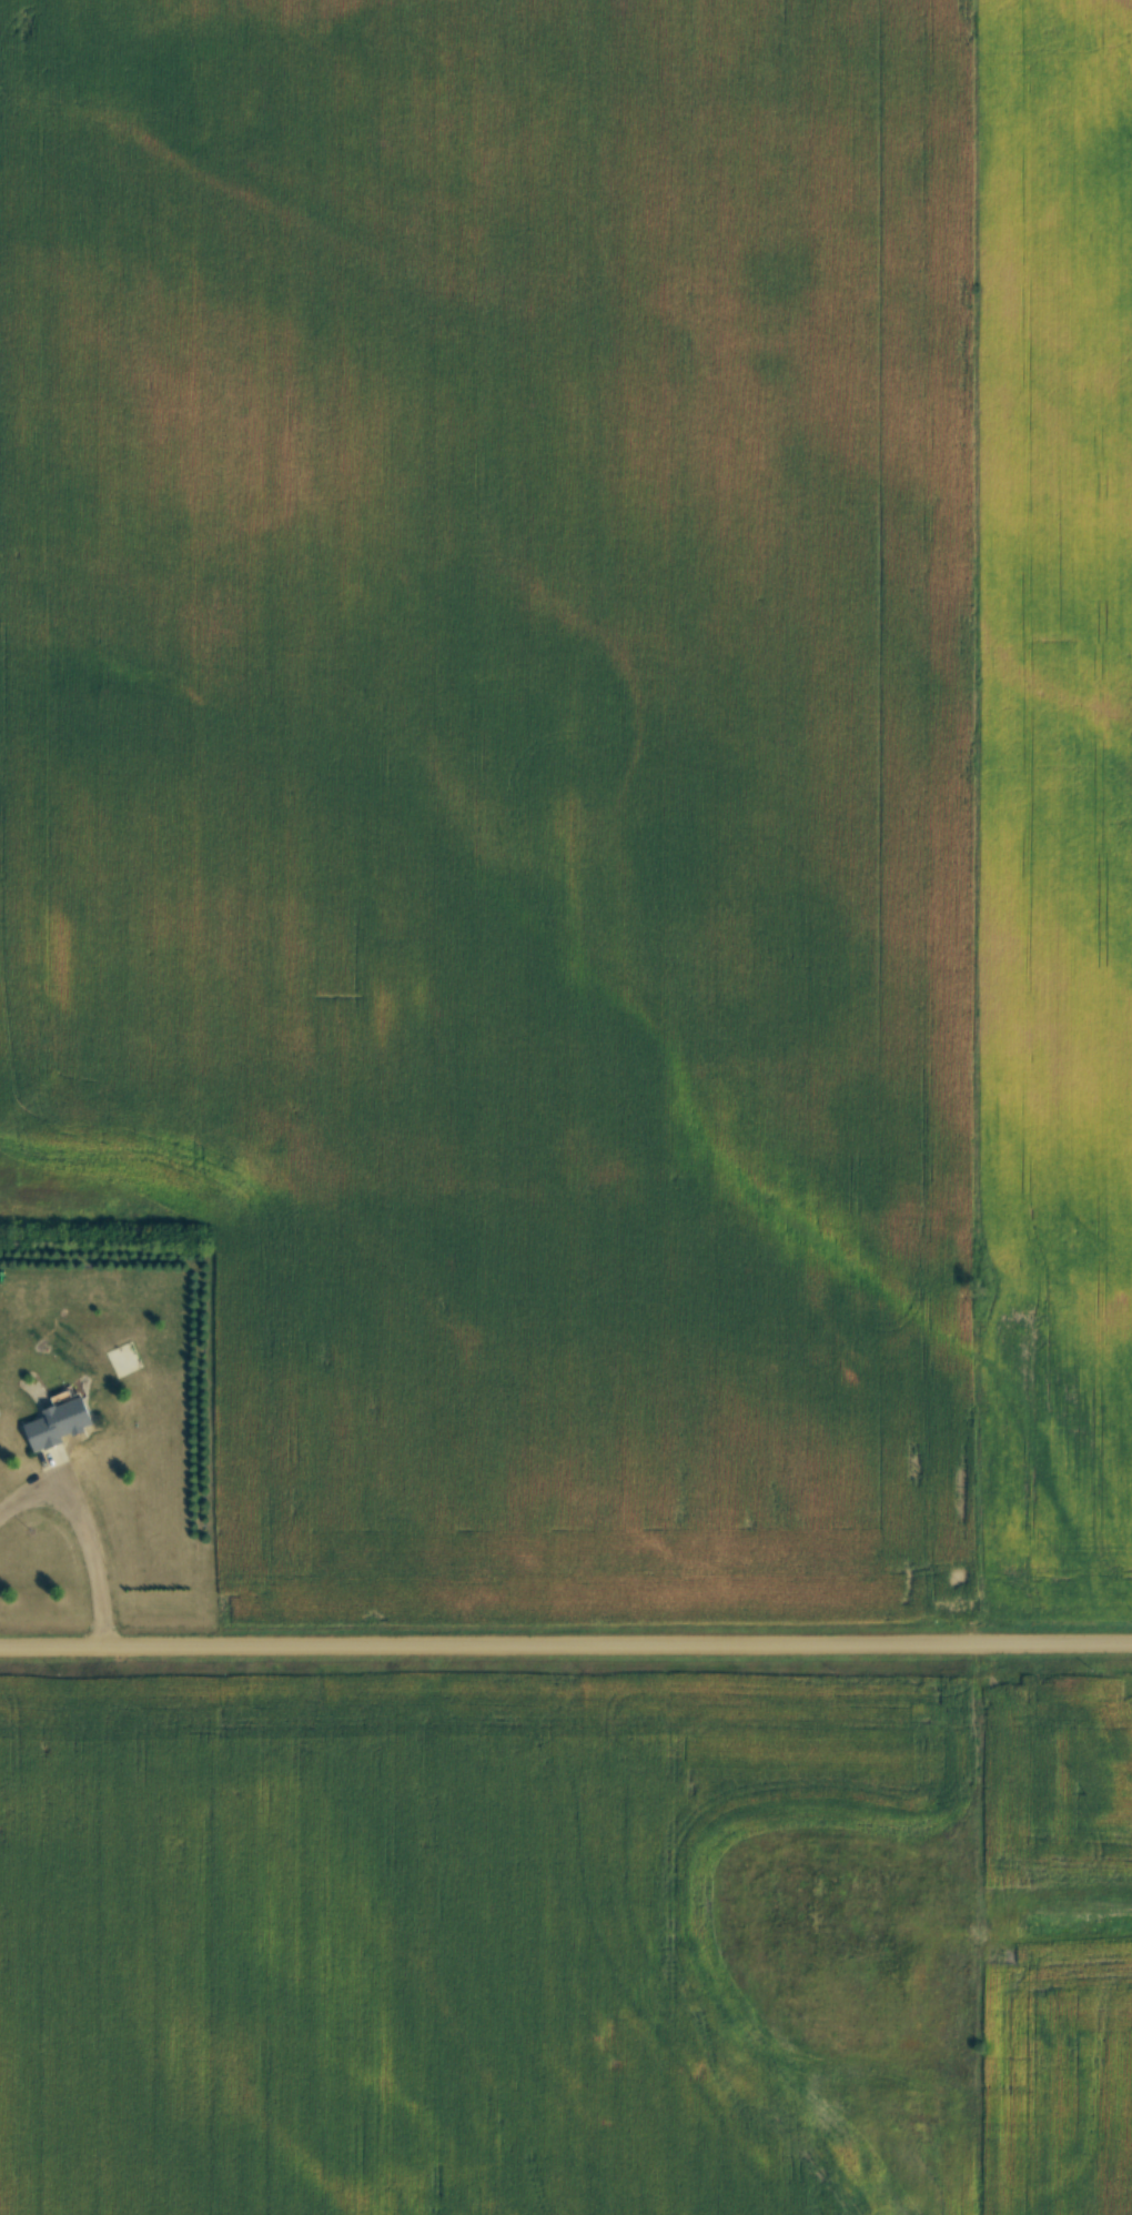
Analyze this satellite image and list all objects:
building: (62, 1421)
road: (84, 1532)
road: (566, 1645)

